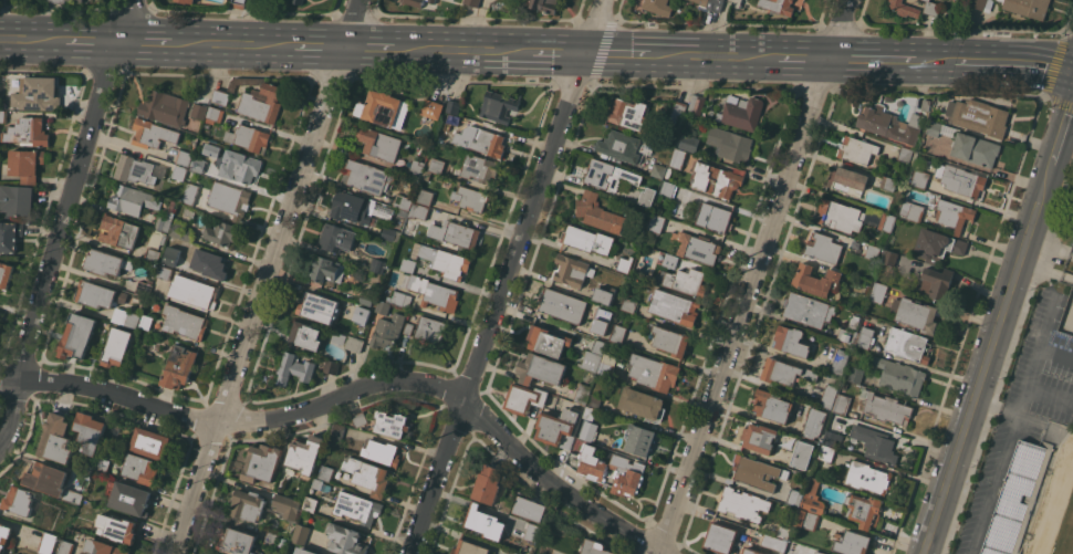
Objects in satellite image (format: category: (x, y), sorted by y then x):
building: (699, 0)
building: (58, 1)
building: (77, 1)
building: (187, 1)
building: (299, 1)
building: (431, 1)
building: (256, 2)
building: (415, 2)
building: (472, 2)
building: (238, 3)
building: (713, 4)
building: (981, 4)
building: (545, 6)
building: (778, 6)
building: (658, 7)
building: (1028, 7)
building: (905, 8)
building: (933, 8)
road: (34, 39)
road: (92, 41)
road: (143, 43)
road: (233, 45)
road: (320, 48)
road: (365, 49)
road: (457, 51)
road: (555, 52)
road: (616, 53)
road: (715, 54)
road: (804, 56)
road: (871, 56)
road: (934, 58)
road: (1013, 59)
building: (39, 94)
building: (221, 96)
building: (889, 98)
building: (262, 102)
building: (697, 104)
building: (926, 104)
building: (382, 106)
building: (454, 106)
building: (498, 106)
building: (165, 107)
building: (679, 107)
building: (431, 108)
building: (199, 109)
building: (628, 113)
building: (742, 113)
building: (215, 114)
building: (3, 116)
building: (981, 117)
building: (451, 122)
building: (890, 125)
building: (934, 128)
road: (1061, 129)
building: (28, 130)
building: (153, 133)
building: (250, 137)
building: (487, 142)
building: (689, 143)
building: (729, 143)
building: (381, 144)
building: (619, 145)
building: (976, 148)
building: (857, 149)
building: (904, 154)
building: (184, 157)
building: (678, 158)
building: (25, 164)
building: (198, 164)
building: (437, 166)
building: (476, 166)
building: (242, 167)
building: (416, 167)
building: (134, 169)
building: (660, 170)
building: (178, 171)
building: (426, 175)
building: (608, 175)
building: (366, 176)
building: (716, 178)
building: (919, 178)
building: (847, 180)
building: (965, 181)
building: (888, 182)
building: (668, 188)
building: (189, 192)
building: (426, 197)
building: (647, 197)
building: (471, 198)
building: (15, 199)
building: (229, 199)
building: (134, 200)
building: (403, 200)
building: (351, 207)
building: (911, 209)
building: (403, 211)
building: (418, 211)
building: (598, 212)
building: (952, 213)
building: (841, 216)
building: (715, 217)
building: (164, 221)
building: (887, 221)
building: (656, 222)
road: (63, 224)
building: (1071, 226)
building: (181, 230)
building: (119, 231)
building: (221, 232)
building: (389, 232)
building: (455, 233)
building: (10, 236)
building: (157, 238)
building: (170, 238)
building: (337, 238)
building: (587, 239)
building: (649, 240)
building: (938, 244)
building: (697, 247)
building: (823, 247)
building: (873, 252)
building: (152, 255)
building: (171, 255)
building: (890, 258)
building: (670, 260)
building: (106, 262)
building: (209, 263)
building: (624, 263)
building: (378, 264)
building: (408, 264)
building: (451, 264)
building: (326, 270)
building: (572, 270)
building: (796, 271)
building: (4, 273)
building: (164, 273)
road: (267, 276)
road: (504, 276)
road: (752, 276)
building: (815, 279)
building: (685, 281)
building: (936, 283)
building: (144, 288)
building: (195, 291)
building: (431, 291)
building: (879, 292)
building: (100, 294)
building: (604, 294)
building: (398, 296)
building: (366, 297)
building: (562, 305)
building: (629, 305)
building: (317, 306)
building: (383, 306)
building: (674, 306)
building: (809, 310)
building: (362, 314)
building: (918, 314)
building: (0, 315)
building: (132, 320)
building: (854, 321)
building: (147, 322)
building: (184, 322)
building: (606, 323)
building: (409, 328)
building: (385, 330)
building: (430, 330)
building: (866, 332)
building: (617, 333)
building: (304, 335)
building: (846, 335)
building: (77, 336)
building: (338, 337)
building: (548, 341)
building: (671, 341)
building: (791, 341)
building: (354, 344)
building: (907, 344)
building: (117, 346)
road: (1054, 351)
building: (594, 355)
road: (987, 359)
building: (840, 362)
building: (607, 365)
building: (179, 367)
building: (331, 367)
building: (294, 368)
building: (540, 369)
building: (654, 372)
building: (785, 372)
building: (856, 374)
building: (899, 375)
road: (10, 378)
road: (363, 389)
road: (1048, 391)
building: (582, 393)
building: (829, 396)
road: (1019, 396)
building: (524, 398)
building: (593, 400)
building: (643, 404)
building: (842, 404)
building: (772, 405)
road: (993, 407)
building: (886, 408)
building: (590, 412)
building: (358, 418)
building: (813, 422)
building: (392, 424)
building: (560, 427)
building: (588, 430)
building: (91, 431)
building: (337, 432)
building: (759, 437)
building: (831, 437)
building: (56, 439)
building: (639, 439)
building: (150, 442)
building: (875, 443)
building: (825, 451)
building: (381, 452)
building: (305, 453)
building: (802, 453)
building: (262, 462)
building: (588, 462)
building: (103, 464)
building: (140, 468)
building: (757, 472)
building: (326, 473)
building: (368, 474)
building: (626, 474)
building: (867, 477)
building: (46, 478)
building: (488, 483)
building: (73, 495)
building: (794, 496)
building: (813, 496)
building: (129, 498)
building: (1014, 498)
building: (20, 501)
building: (310, 503)
building: (742, 503)
building: (248, 504)
building: (287, 505)
building: (357, 506)
building: (529, 508)
building: (863, 509)
building: (806, 519)
building: (485, 522)
building: (118, 527)
building: (783, 530)
building: (532, 531)
building: (301, 534)
building: (4, 535)
building: (270, 537)
building: (720, 537)
building: (345, 539)
building: (238, 542)
building: (774, 542)
building: (853, 542)
building: (49, 543)
building: (67, 547)
building: (105, 547)
building: (470, 547)
building: (595, 547)
building: (752, 551)
building: (301, 552)
building: (820, 552)
building: (211, 553)
building: (215, 553)
building: (319, 553)
building: (519, 553)
building: (522, 553)
building: (581, 553)

